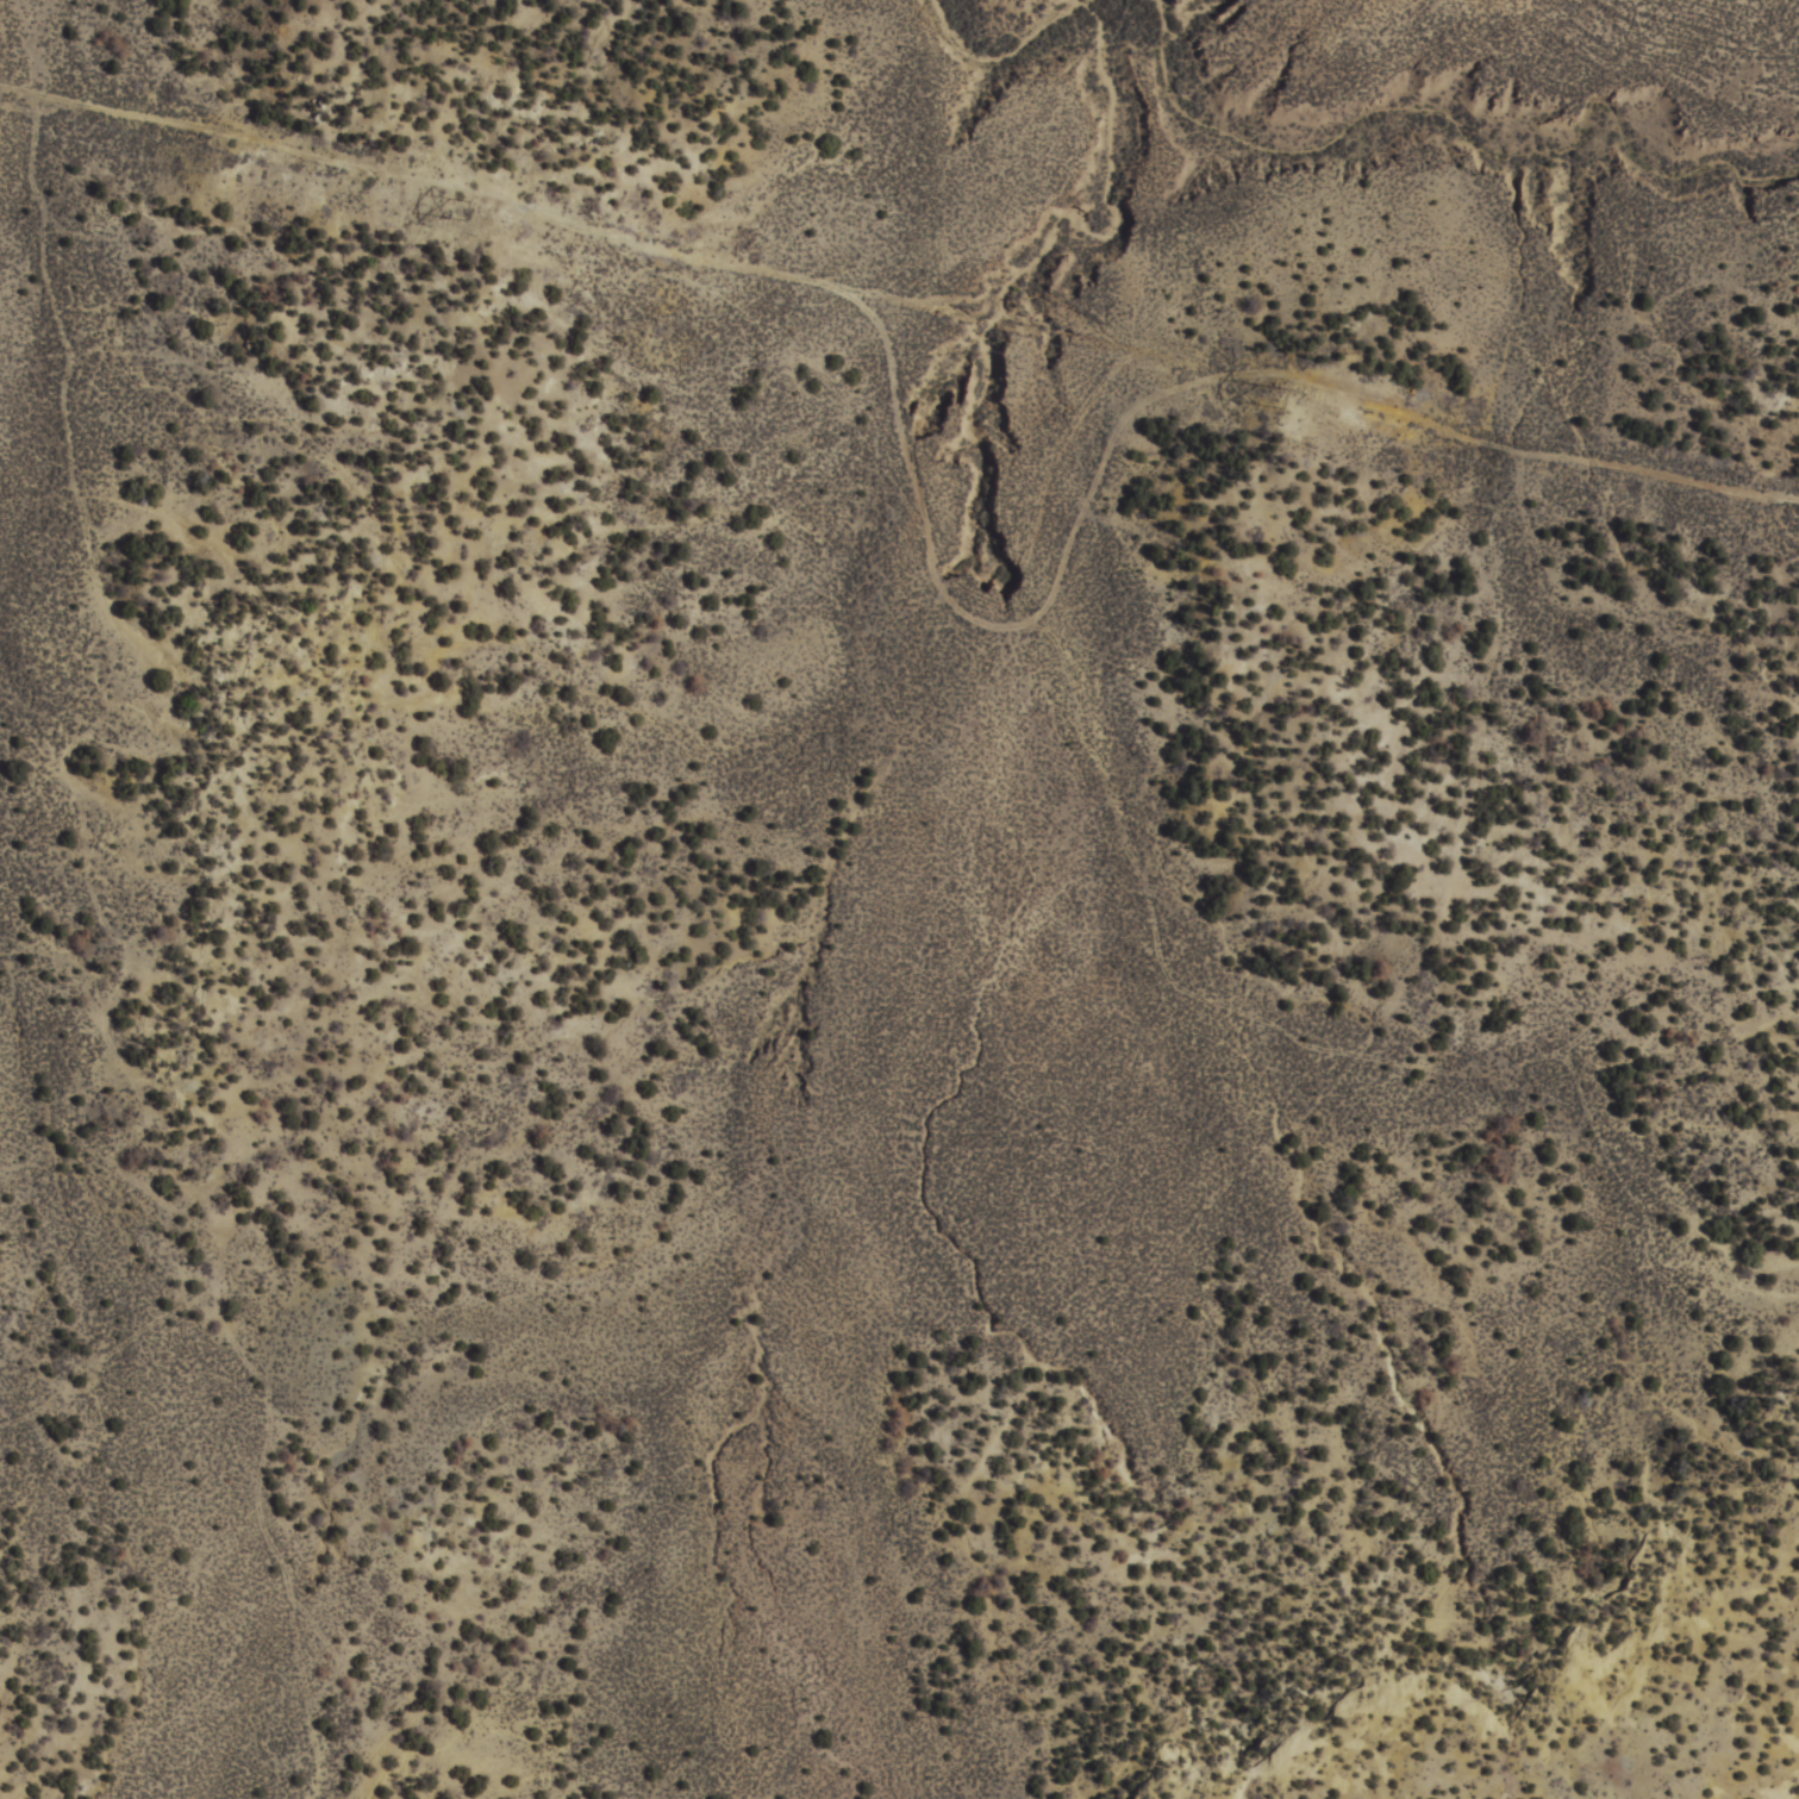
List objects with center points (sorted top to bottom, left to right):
river: (1313, 154)
power tower: (466, 210)
power tower: (1282, 398)

